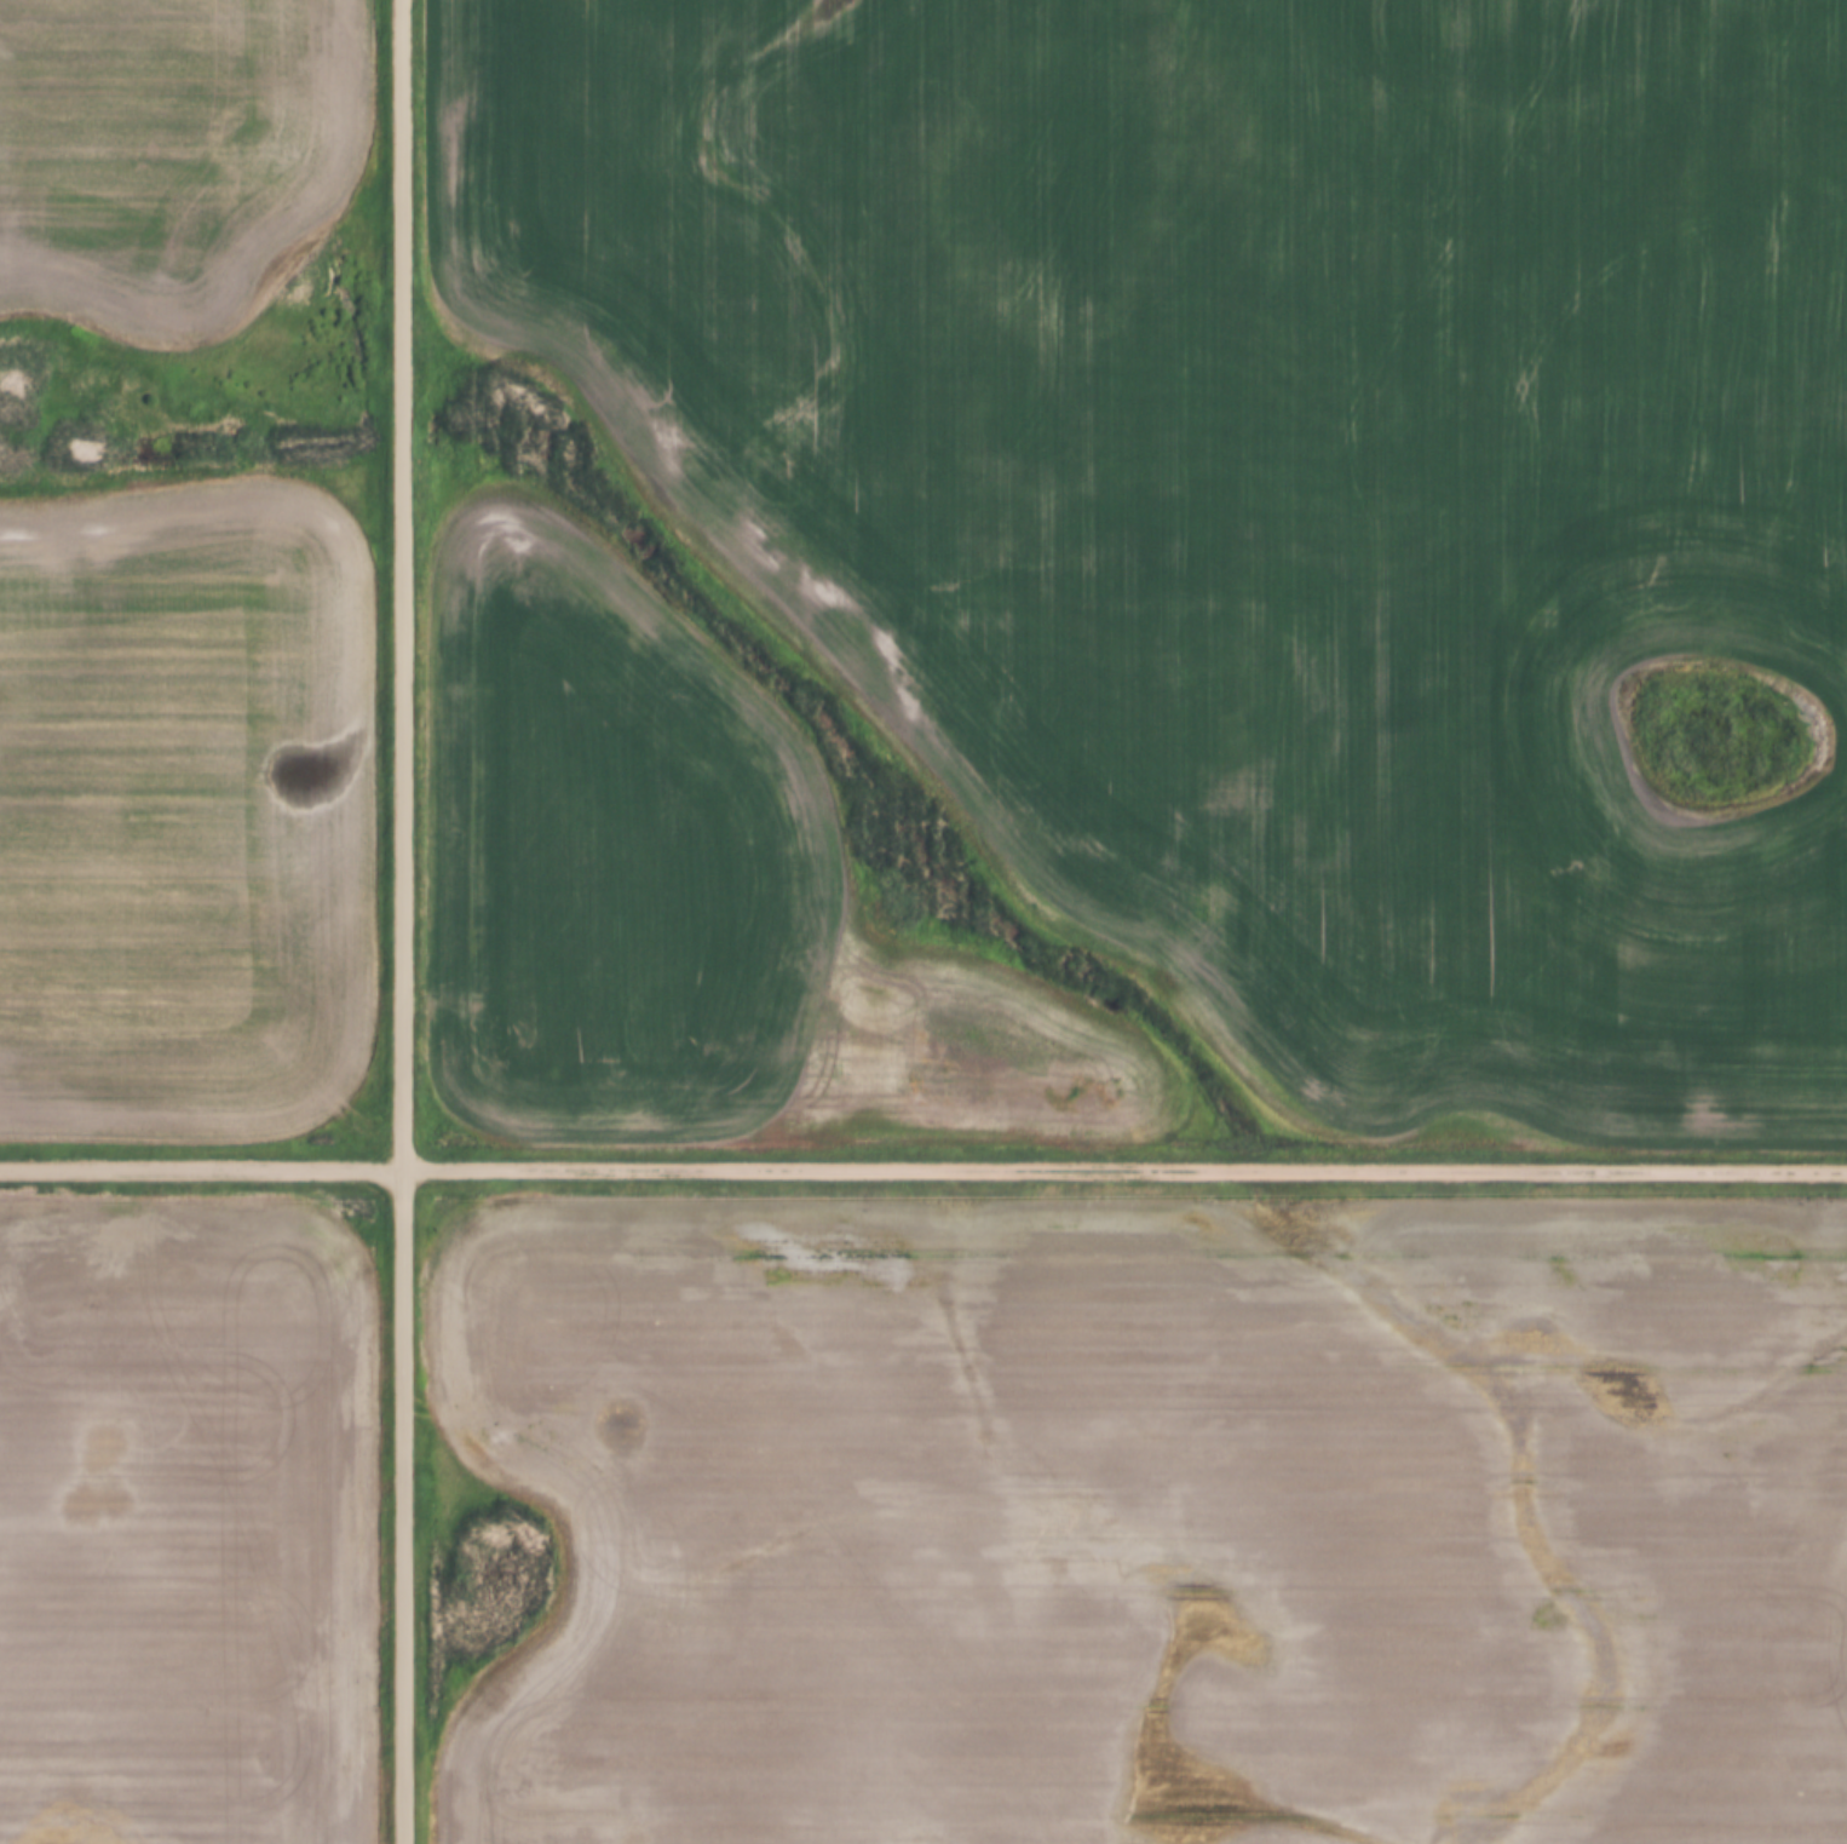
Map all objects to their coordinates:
road: (403, 921)
road: (923, 1173)

